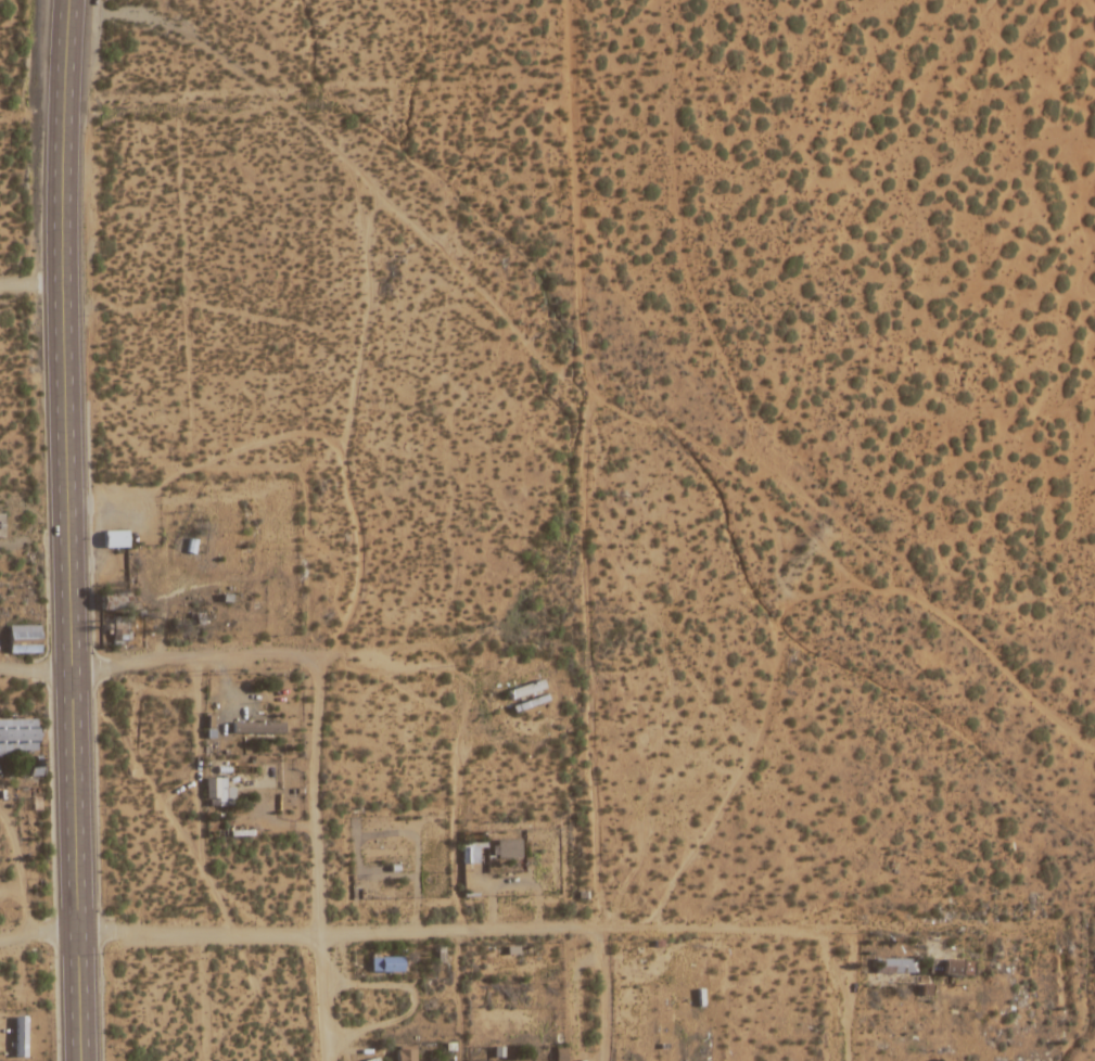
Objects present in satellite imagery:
road: (61, 140)
road: (343, 165)
road: (29, 282)
building: (116, 541)
road: (341, 626)
road: (220, 650)
road: (586, 657)
road: (68, 672)
building: (526, 691)
building: (257, 729)
building: (18, 738)
building: (216, 790)
building: (508, 849)
building: (471, 854)
building: (385, 855)
road: (472, 929)
building: (387, 964)
building: (894, 967)
building: (935, 967)
building: (958, 969)
road: (832, 992)
road: (610, 993)
building: (20, 1037)
building: (406, 1053)

